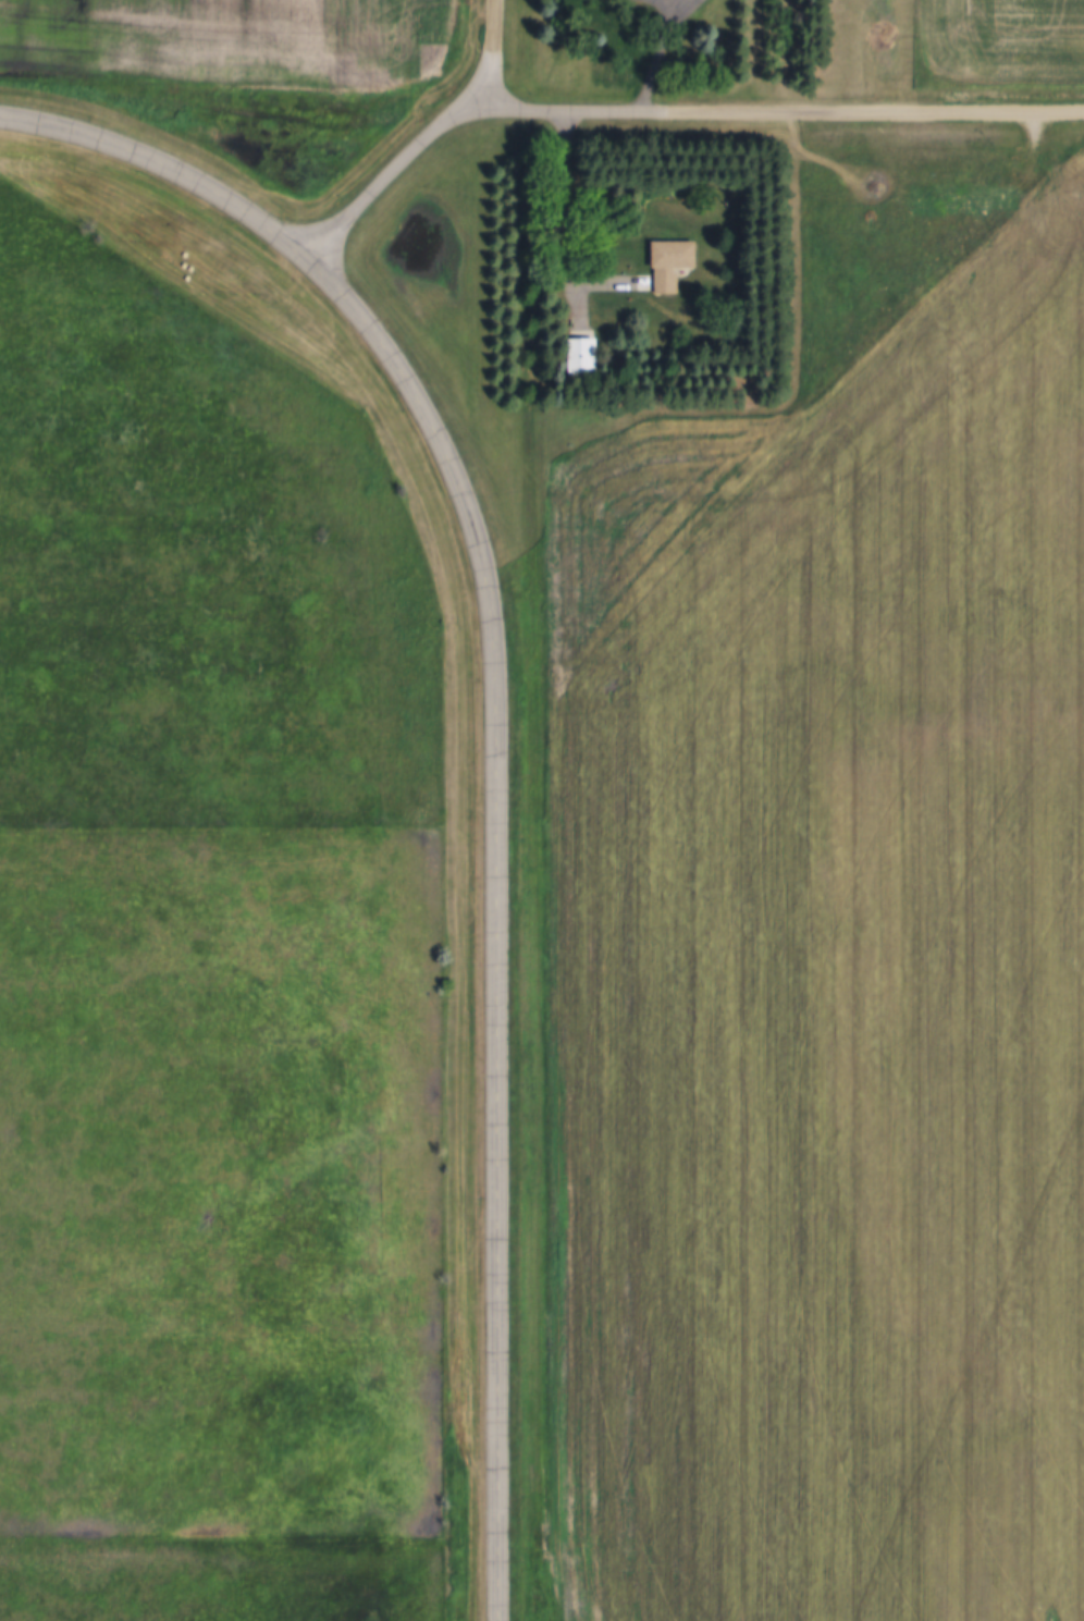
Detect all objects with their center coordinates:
road: (500, 52)
road: (661, 54)
road: (568, 108)
road: (861, 113)
road: (396, 167)
road: (574, 229)
road: (282, 233)
building: (672, 259)
building: (582, 353)
road: (505, 1046)

